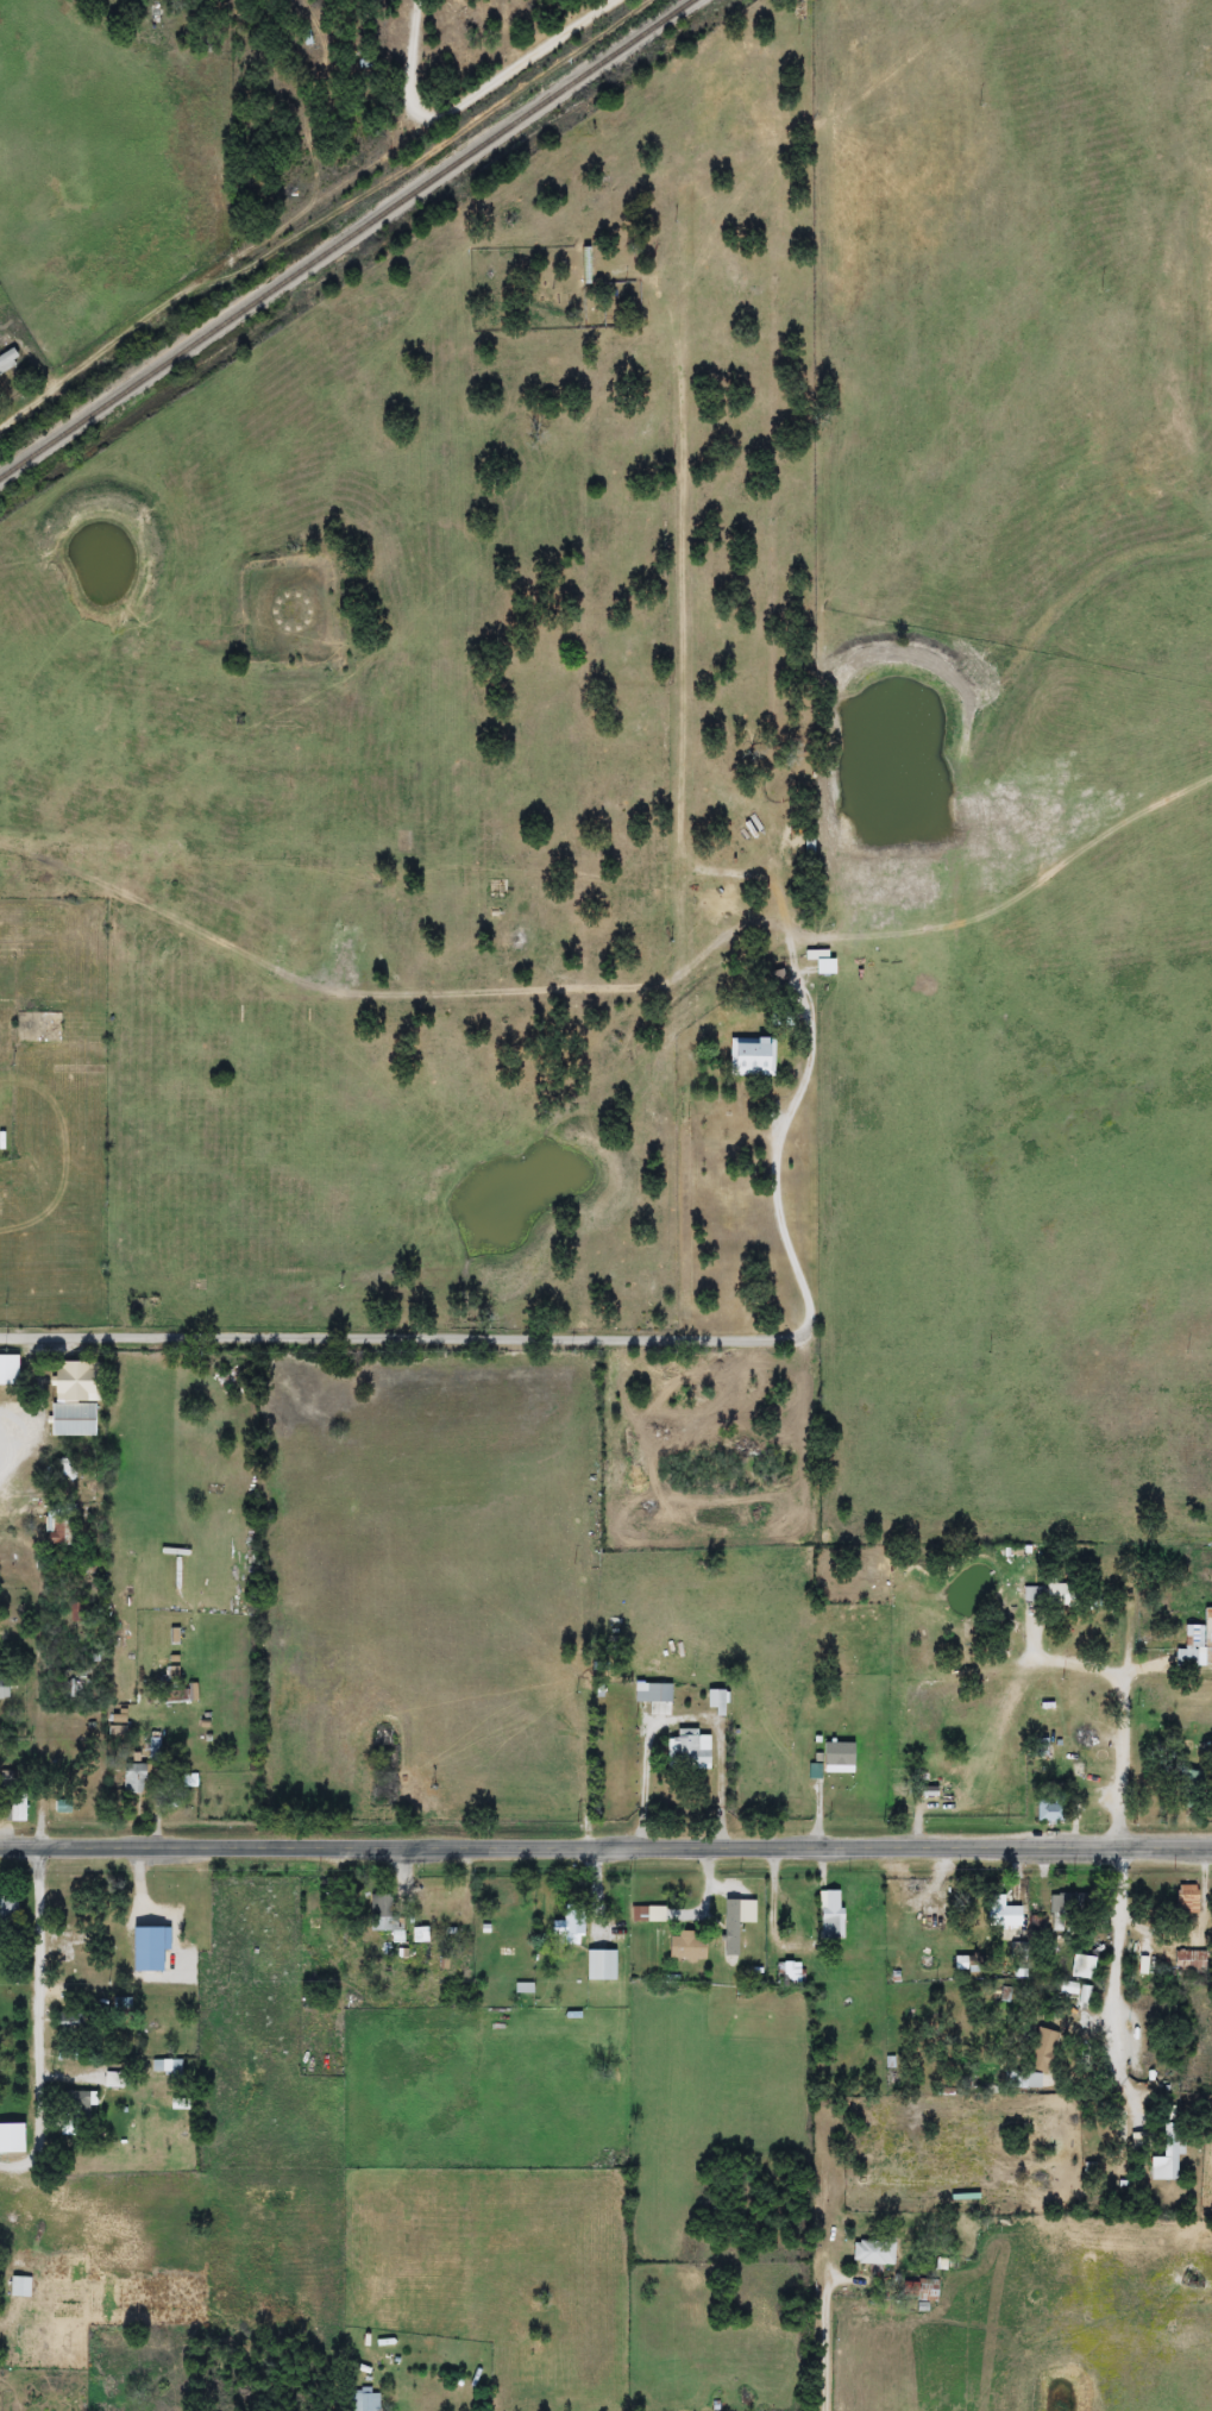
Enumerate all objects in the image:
road: (307, 220)
railway: (346, 239)
building: (10, 360)
building: (806, 845)
building: (821, 966)
building: (773, 984)
building: (749, 1056)
road: (397, 1337)
building: (11, 1370)
building: (81, 1399)
building: (1032, 1594)
building: (81, 1612)
building: (1197, 1640)
building: (6, 1688)
building: (652, 1691)
building: (714, 1702)
road: (39, 1727)
road: (1109, 1738)
building: (1040, 1746)
building: (687, 1750)
building: (954, 1764)
building: (139, 1777)
building: (1185, 1782)
building: (1047, 1808)
building: (21, 1809)
road: (20, 1848)
road: (626, 1848)
building: (1186, 1898)
building: (1063, 1902)
building: (384, 1909)
building: (11, 1910)
building: (998, 1910)
building: (828, 1913)
building: (734, 1921)
building: (565, 1925)
building: (181, 1926)
building: (417, 1934)
road: (1110, 1940)
building: (684, 1944)
building: (139, 1951)
building: (1189, 1960)
building: (599, 1964)
building: (1080, 1966)
building: (790, 1973)
road: (38, 2023)
building: (1042, 2049)
building: (169, 2066)
building: (1021, 2079)
building: (83, 2102)
building: (15, 2136)
building: (1167, 2148)
building: (872, 2253)
building: (24, 2286)
building: (364, 2399)

